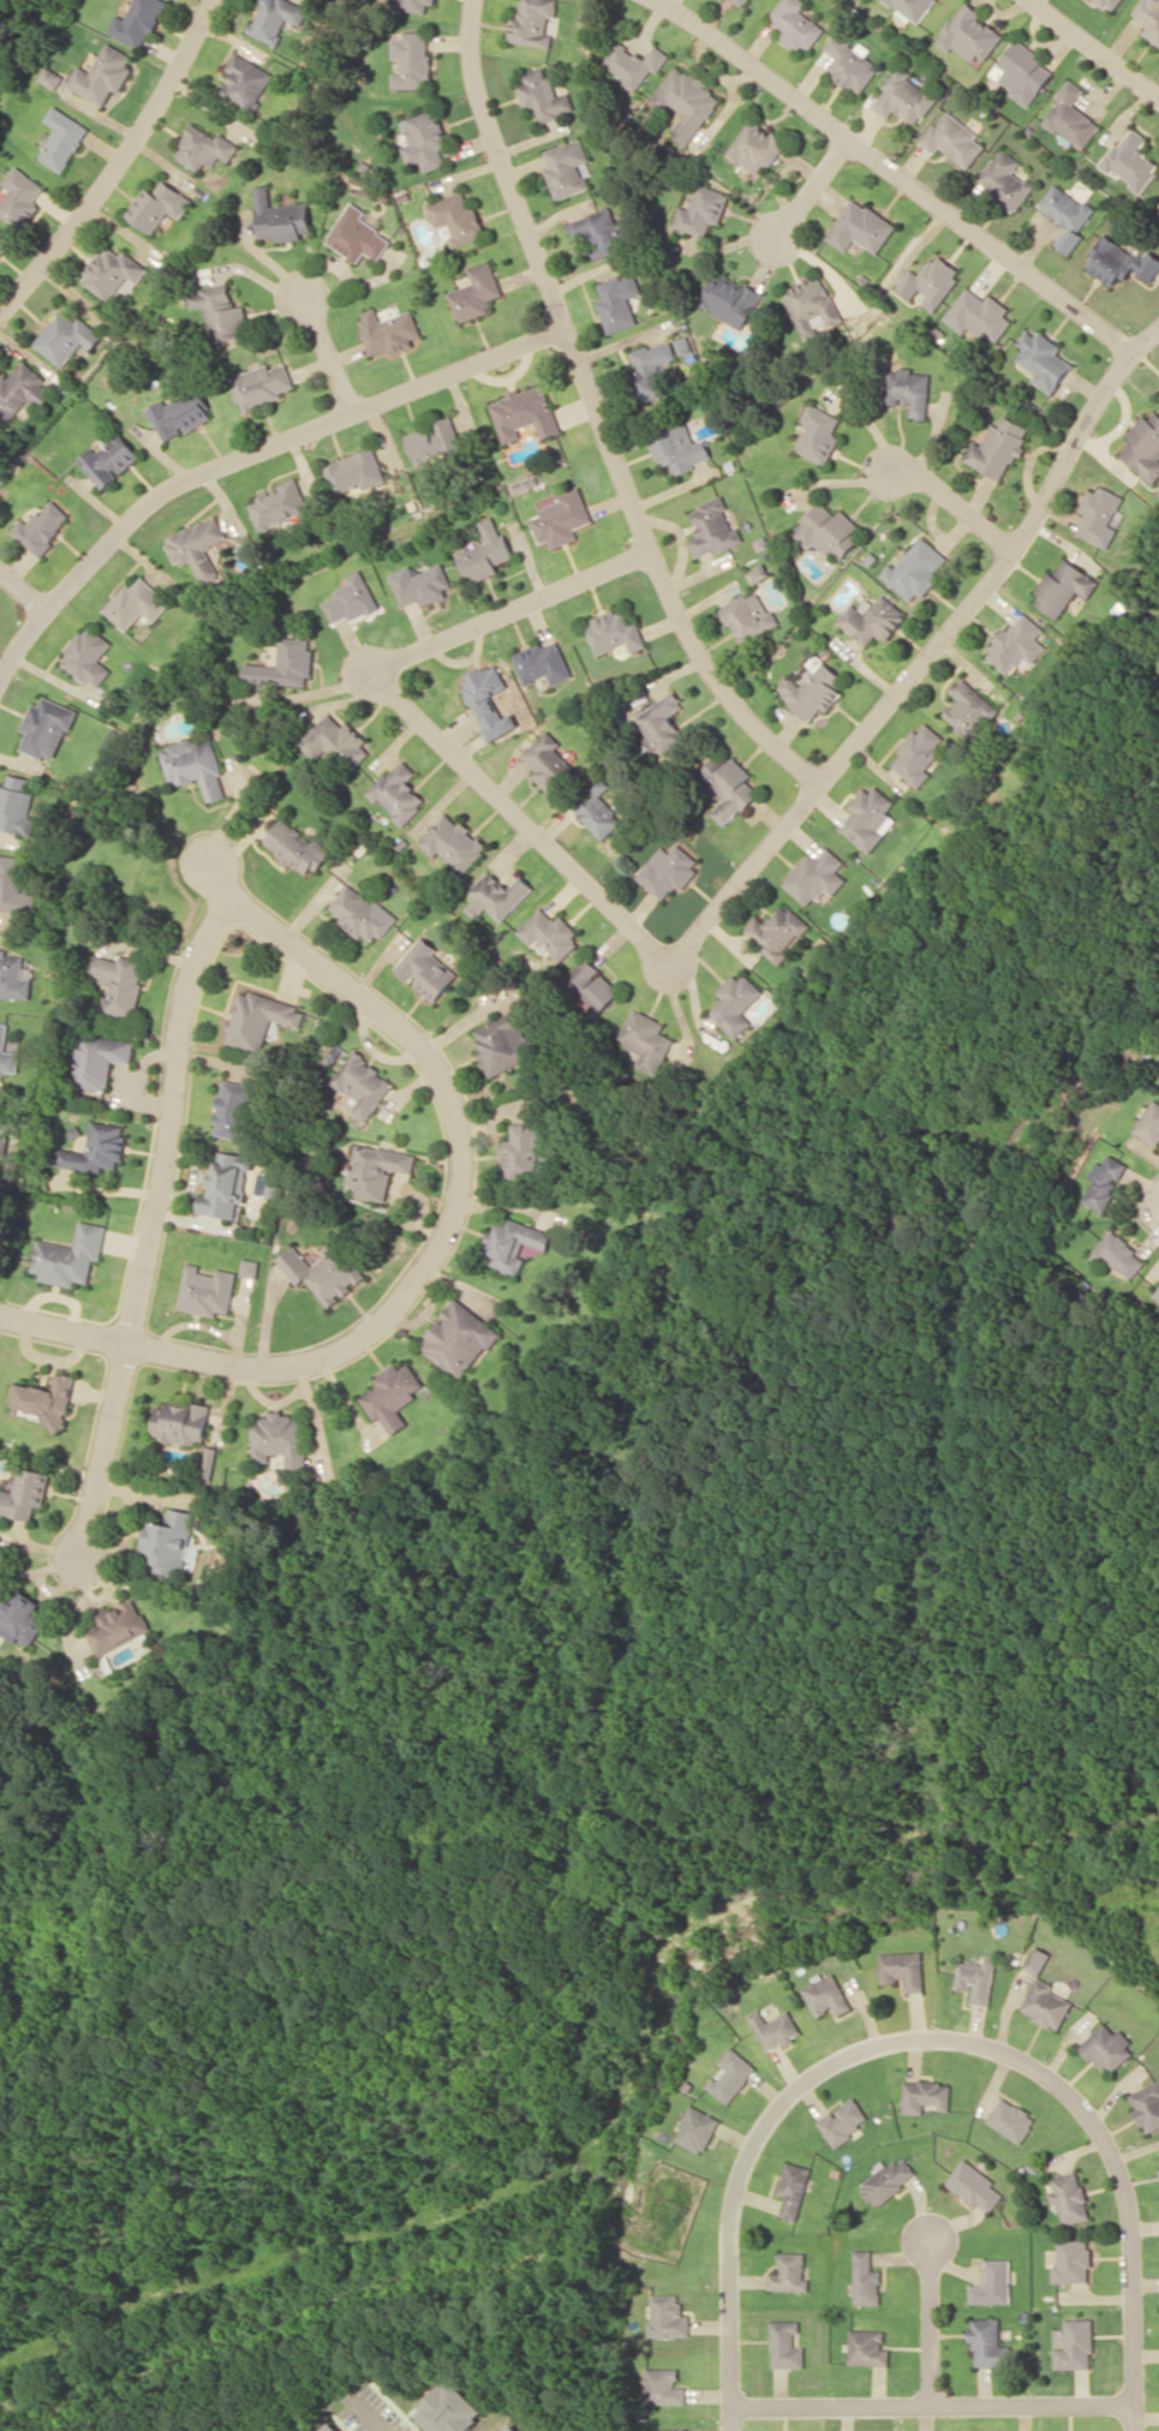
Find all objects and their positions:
building: (742, 1)
building: (1111, 4)
building: (414, 5)
building: (913, 8)
river: (6, 11)
building: (1148, 17)
building: (274, 18)
building: (138, 22)
building: (532, 22)
building: (796, 24)
building: (970, 34)
road: (1095, 47)
building: (411, 60)
building: (634, 62)
building: (852, 64)
building: (1022, 71)
building: (102, 74)
building: (52, 76)
building: (245, 82)
building: (544, 95)
building: (904, 96)
building: (688, 101)
building: (1073, 115)
building: (62, 138)
building: (954, 138)
building: (425, 139)
building: (757, 145)
building: (202, 147)
building: (1131, 160)
road: (502, 166)
road: (115, 167)
building: (567, 167)
road: (901, 171)
building: (1006, 180)
road: (814, 185)
building: (20, 196)
building: (156, 205)
building: (701, 210)
building: (1067, 214)
building: (456, 216)
building: (279, 217)
building: (861, 227)
building: (598, 231)
building: (356, 235)
building: (4, 241)
building: (1121, 261)
building: (110, 270)
building: (931, 281)
building: (476, 292)
building: (729, 299)
building: (617, 301)
building: (811, 303)
building: (219, 312)
building: (979, 315)
building: (387, 330)
building: (66, 336)
road: (1146, 338)
road: (330, 354)
building: (1042, 359)
building: (655, 365)
building: (261, 383)
building: (22, 389)
building: (910, 389)
building: (1158, 390)
building: (180, 413)
building: (522, 413)
building: (819, 434)
building: (434, 440)
building: (680, 447)
building: (998, 447)
building: (1143, 447)
road: (249, 455)
building: (109, 459)
building: (356, 471)
building: (519, 485)
building: (280, 503)
road: (955, 503)
building: (1101, 514)
building: (561, 518)
building: (43, 526)
building: (713, 527)
building: (828, 531)
building: (198, 545)
building: (484, 551)
building: (915, 569)
building: (758, 572)
road: (663, 574)
road: (991, 577)
building: (419, 583)
road: (24, 587)
building: (1064, 587)
building: (351, 598)
building: (137, 603)
building: (749, 615)
building: (872, 619)
building: (616, 633)
building: (1017, 643)
building: (89, 656)
building: (544, 662)
building: (285, 664)
building: (813, 688)
building: (488, 699)
building: (969, 706)
building: (662, 719)
building: (47, 727)
building: (334, 741)
building: (919, 754)
building: (549, 761)
building: (195, 765)
building: (730, 788)
building: (399, 792)
road: (494, 792)
building: (17, 805)
building: (597, 807)
building: (870, 817)
building: (454, 842)
building: (298, 847)
building: (668, 871)
building: (817, 876)
building: (14, 885)
building: (497, 895)
building: (360, 913)
building: (776, 931)
building: (550, 933)
building: (425, 968)
building: (14, 975)
building: (119, 982)
building: (592, 985)
building: (736, 1003)
building: (259, 1019)
building: (646, 1039)
building: (503, 1041)
building: (7, 1053)
building: (100, 1059)
building: (362, 1085)
building: (234, 1109)
building: (0, 1110)
building: (1149, 1123)
building: (2, 1143)
building: (94, 1148)
building: (527, 1152)
building: (376, 1169)
building: (1104, 1181)
building: (227, 1184)
building: (273, 1189)
road: (155, 1224)
road: (441, 1242)
building: (513, 1243)
building: (1119, 1254)
building: (68, 1255)
building: (251, 1267)
building: (322, 1272)
building: (207, 1290)
building: (1158, 1294)
building: (460, 1338)
building: (394, 1394)
building: (42, 1399)
building: (181, 1421)
building: (281, 1439)
building: (210, 1462)
building: (25, 1493)
building: (169, 1541)
building: (22, 1615)
building: (119, 1625)
building: (1036, 1960)
building: (903, 1969)
building: (976, 1979)
building: (826, 1995)
building: (1046, 2003)
building: (775, 2027)
road: (927, 2037)
building: (1107, 2048)
building: (731, 2074)
building: (925, 2095)
building: (1146, 2106)
building: (1011, 2119)
building: (843, 2120)
building: (695, 2128)
building: (889, 2179)
building: (974, 2185)
building: (793, 2187)
building: (1068, 2197)
building: (1071, 2260)
building: (789, 2272)
building: (865, 2278)
building: (993, 2283)
building: (667, 2316)
road: (930, 2322)
building: (987, 2343)
building: (785, 2345)
building: (1073, 2345)
building: (867, 2347)
building: (664, 2387)
road: (930, 2405)
building: (448, 2409)
road: (364, 2417)
building: (328, 2426)
building: (510, 2427)
building: (673, 2430)

